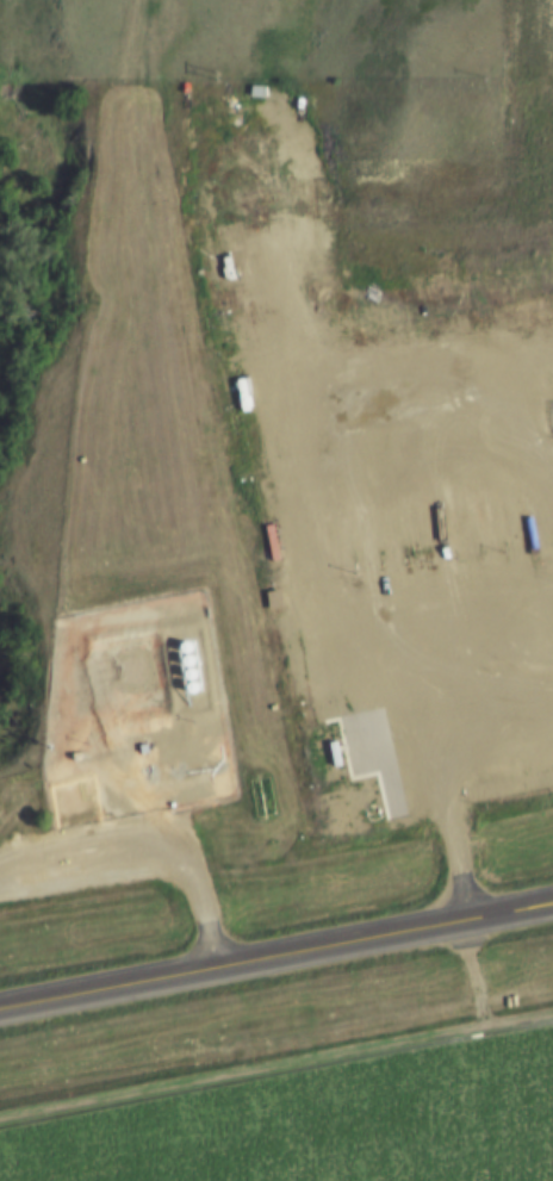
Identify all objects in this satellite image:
building: (126, 671)
building: (141, 746)
building: (75, 754)
road: (150, 850)
road: (275, 953)
road: (472, 970)
road: (275, 1062)

